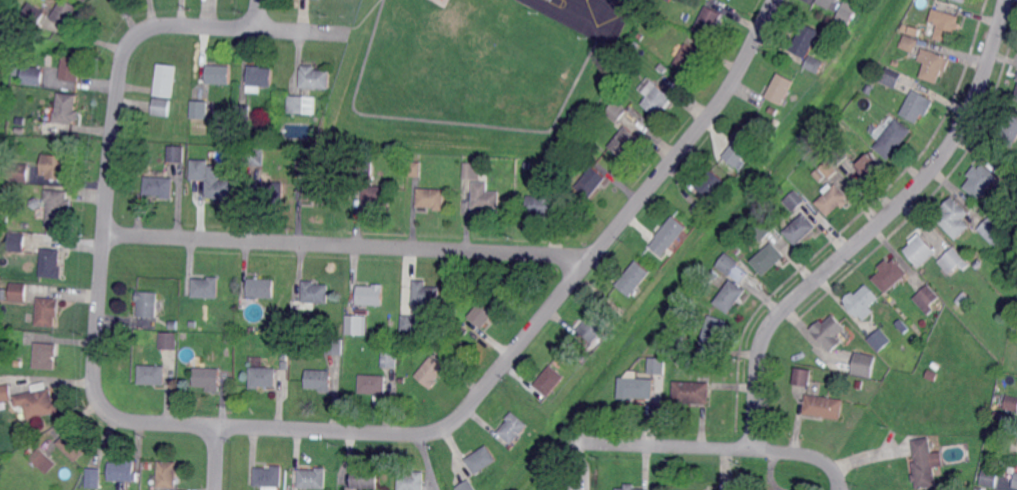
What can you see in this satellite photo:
building: (87, 0)
building: (963, 0)
building: (827, 2)
building: (67, 13)
road: (259, 14)
building: (846, 14)
building: (35, 15)
road: (365, 15)
building: (709, 22)
building: (946, 24)
road: (242, 28)
road: (588, 29)
building: (910, 43)
building: (634, 46)
building: (808, 47)
building: (17, 56)
building: (689, 57)
building: (934, 64)
building: (72, 68)
building: (662, 68)
building: (16, 71)
building: (219, 74)
building: (34, 75)
building: (316, 77)
building: (892, 77)
building: (260, 78)
building: (166, 80)
building: (780, 88)
building: (869, 89)
building: (656, 97)
building: (1016, 97)
building: (300, 104)
building: (162, 107)
building: (916, 107)
building: (66, 110)
building: (198, 110)
building: (613, 110)
building: (243, 112)
building: (773, 112)
road: (444, 120)
building: (873, 129)
building: (19, 130)
building: (1009, 131)
building: (892, 137)
building: (749, 139)
building: (625, 141)
building: (583, 147)
building: (175, 154)
building: (255, 156)
building: (734, 156)
building: (839, 156)
building: (870, 165)
building: (56, 166)
building: (304, 166)
building: (365, 168)
building: (416, 168)
building: (826, 169)
building: (473, 170)
building: (18, 172)
building: (213, 179)
building: (981, 180)
building: (592, 182)
building: (712, 184)
road: (651, 185)
building: (160, 186)
building: (271, 191)
building: (318, 192)
building: (378, 195)
building: (432, 198)
building: (485, 198)
building: (831, 199)
building: (795, 201)
building: (546, 202)
building: (36, 203)
building: (7, 206)
building: (58, 209)
building: (701, 209)
building: (953, 218)
road: (106, 224)
road: (873, 227)
building: (762, 228)
building: (801, 229)
building: (994, 232)
building: (668, 236)
building: (18, 242)
road: (349, 245)
building: (921, 249)
building: (769, 258)
building: (953, 260)
building: (730, 262)
building: (53, 263)
building: (978, 264)
building: (890, 274)
building: (715, 275)
building: (635, 278)
building: (205, 288)
building: (262, 288)
building: (20, 292)
building: (316, 292)
building: (372, 294)
building: (425, 294)
building: (731, 296)
building: (926, 299)
building: (861, 302)
building: (149, 303)
building: (962, 303)
building: (49, 311)
building: (484, 312)
building: (31, 317)
building: (413, 322)
building: (193, 324)
building: (356, 324)
building: (176, 325)
building: (900, 326)
building: (593, 327)
building: (1015, 327)
building: (673, 329)
building: (252, 330)
building: (715, 332)
building: (829, 332)
building: (229, 339)
building: (878, 340)
building: (168, 341)
building: (336, 346)
building: (46, 356)
building: (391, 356)
building: (20, 362)
building: (658, 365)
building: (863, 365)
building: (285, 366)
building: (432, 372)
building: (153, 374)
building: (933, 374)
building: (801, 377)
building: (209, 378)
building: (263, 378)
building: (320, 379)
building: (551, 380)
building: (373, 384)
building: (859, 384)
building: (634, 387)
building: (6, 392)
building: (692, 392)
building: (39, 400)
building: (1011, 403)
building: (824, 406)
building: (921, 413)
building: (998, 415)
building: (514, 427)
road: (327, 430)
building: (925, 431)
building: (997, 441)
building: (74, 445)
road: (702, 448)
building: (42, 457)
road: (217, 458)
building: (482, 459)
building: (925, 464)
building: (123, 470)
building: (167, 475)
road: (838, 476)
building: (95, 477)
building: (990, 477)
building: (269, 478)
building: (313, 478)
building: (363, 478)
building: (412, 480)
building: (1015, 480)
building: (1004, 483)
building: (467, 486)
building: (558, 487)
building: (630, 487)
building: (147, 488)
building: (709, 489)
building: (979, 489)

